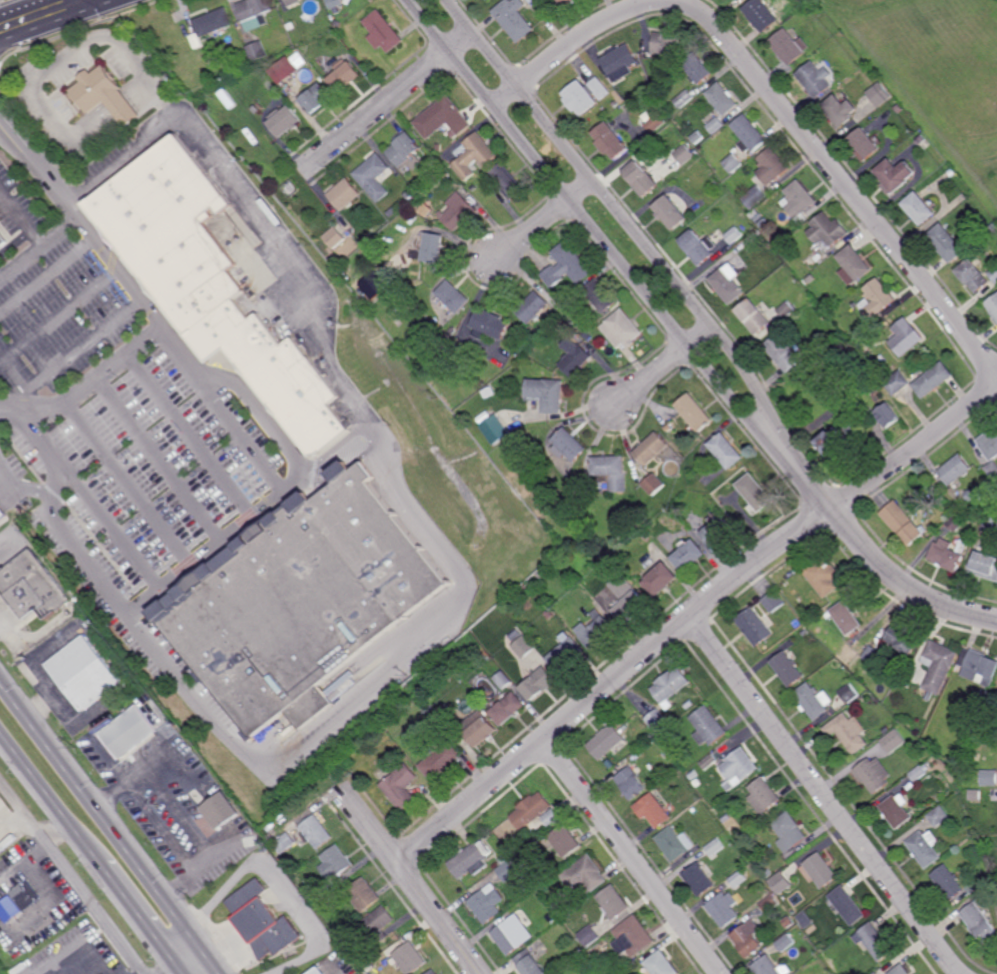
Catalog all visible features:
building: (488, 0)
building: (292, 2)
building: (566, 2)
building: (335, 5)
building: (810, 9)
building: (253, 12)
building: (761, 14)
road: (42, 16)
building: (515, 18)
building: (213, 22)
building: (290, 26)
building: (352, 26)
building: (382, 32)
building: (667, 42)
building: (323, 45)
building: (409, 45)
building: (790, 46)
building: (258, 49)
building: (649, 53)
road: (67, 59)
building: (622, 61)
building: (287, 67)
building: (698, 68)
building: (345, 75)
building: (815, 79)
building: (587, 92)
building: (105, 95)
building: (879, 95)
building: (317, 98)
building: (685, 98)
building: (723, 98)
road: (387, 101)
building: (897, 108)
building: (840, 111)
building: (442, 117)
building: (285, 121)
building: (655, 123)
building: (681, 123)
building: (717, 125)
building: (750, 133)
building: (611, 140)
building: (923, 142)
building: (866, 144)
building: (406, 150)
building: (684, 154)
building: (475, 155)
building: (734, 163)
building: (773, 166)
building: (951, 173)
building: (895, 174)
building: (375, 176)
building: (447, 176)
road: (840, 177)
building: (642, 178)
building: (507, 181)
building: (290, 188)
building: (346, 194)
building: (410, 195)
building: (756, 197)
building: (799, 201)
building: (919, 208)
building: (459, 211)
building: (671, 212)
road: (622, 214)
building: (762, 220)
road: (85, 221)
road: (545, 221)
road: (589, 223)
building: (992, 227)
building: (828, 230)
road: (37, 234)
building: (735, 235)
building: (336, 237)
building: (3, 239)
building: (949, 243)
building: (700, 246)
building: (786, 246)
building: (430, 249)
building: (826, 255)
building: (811, 261)
road: (23, 262)
building: (856, 263)
building: (568, 266)
building: (391, 274)
building: (994, 275)
building: (973, 276)
building: (729, 283)
building: (213, 284)
building: (373, 286)
building: (454, 297)
building: (601, 297)
building: (877, 299)
building: (992, 306)
building: (534, 308)
building: (786, 311)
building: (555, 314)
building: (755, 316)
building: (490, 325)
building: (622, 330)
building: (865, 331)
building: (906, 337)
building: (806, 350)
building: (783, 352)
building: (576, 361)
road: (664, 364)
building: (920, 382)
building: (491, 391)
building: (548, 394)
road: (7, 408)
building: (695, 412)
building: (887, 415)
building: (494, 430)
building: (571, 445)
building: (839, 445)
building: (653, 450)
building: (727, 451)
building: (990, 454)
building: (955, 470)
building: (613, 472)
building: (654, 484)
building: (757, 494)
building: (974, 496)
road: (405, 498)
road: (273, 504)
building: (567, 505)
building: (650, 509)
building: (2, 514)
building: (955, 521)
building: (903, 522)
building: (990, 526)
building: (719, 530)
building: (379, 540)
building: (949, 553)
building: (690, 555)
road: (869, 555)
building: (986, 563)
building: (823, 575)
building: (662, 578)
building: (529, 587)
building: (32, 588)
building: (628, 598)
building: (775, 601)
building: (549, 614)
building: (845, 617)
building: (280, 620)
building: (756, 626)
building: (598, 629)
building: (804, 632)
building: (516, 635)
building: (904, 638)
building: (855, 641)
building: (524, 647)
building: (566, 654)
building: (872, 654)
building: (939, 665)
building: (979, 667)
building: (788, 669)
building: (960, 670)
building: (86, 674)
building: (503, 680)
road: (611, 682)
building: (537, 684)
building: (672, 686)
building: (848, 694)
building: (929, 695)
building: (984, 695)
building: (812, 701)
building: (690, 704)
building: (506, 708)
building: (436, 713)
building: (448, 717)
building: (658, 720)
building: (709, 726)
building: (478, 728)
building: (886, 730)
building: (848, 732)
building: (131, 734)
building: (978, 739)
building: (606, 741)
building: (893, 741)
building: (673, 746)
power tower: (77, 751)
building: (182, 751)
building: (664, 754)
building: (720, 756)
building: (440, 759)
building: (740, 766)
building: (873, 774)
building: (918, 774)
building: (989, 777)
building: (697, 782)
building: (631, 784)
building: (400, 787)
building: (975, 795)
building: (765, 796)
road: (824, 796)
road: (50, 798)
building: (531, 810)
building: (653, 810)
building: (898, 811)
road: (99, 815)
building: (218, 816)
building: (939, 816)
building: (551, 818)
building: (727, 819)
road: (13, 822)
building: (292, 827)
road: (56, 830)
building: (316, 832)
building: (790, 832)
building: (565, 840)
building: (260, 841)
building: (284, 843)
building: (675, 843)
building: (702, 844)
building: (715, 847)
building: (926, 849)
building: (505, 857)
road: (629, 857)
building: (470, 860)
building: (335, 862)
building: (818, 869)
building: (507, 871)
building: (584, 876)
road: (74, 877)
building: (699, 879)
building: (738, 879)
road: (408, 881)
building: (955, 882)
building: (776, 884)
building: (327, 887)
building: (364, 894)
building: (27, 896)
building: (613, 902)
building: (487, 903)
building: (770, 904)
power tower: (196, 905)
building: (848, 906)
building: (724, 909)
road: (140, 916)
building: (805, 920)
building: (264, 921)
building: (788, 922)
building: (980, 924)
building: (376, 926)
building: (512, 934)
building: (589, 936)
building: (633, 937)
building: (748, 939)
building: (874, 942)
building: (785, 943)
building: (409, 958)
road: (183, 961)
road: (209, 961)
building: (529, 963)
building: (660, 964)
building: (771, 967)
road: (181, 970)
building: (315, 970)
building: (903, 970)
building: (432, 972)
building: (104, 973)
building: (611, 973)
building: (876, 973)

